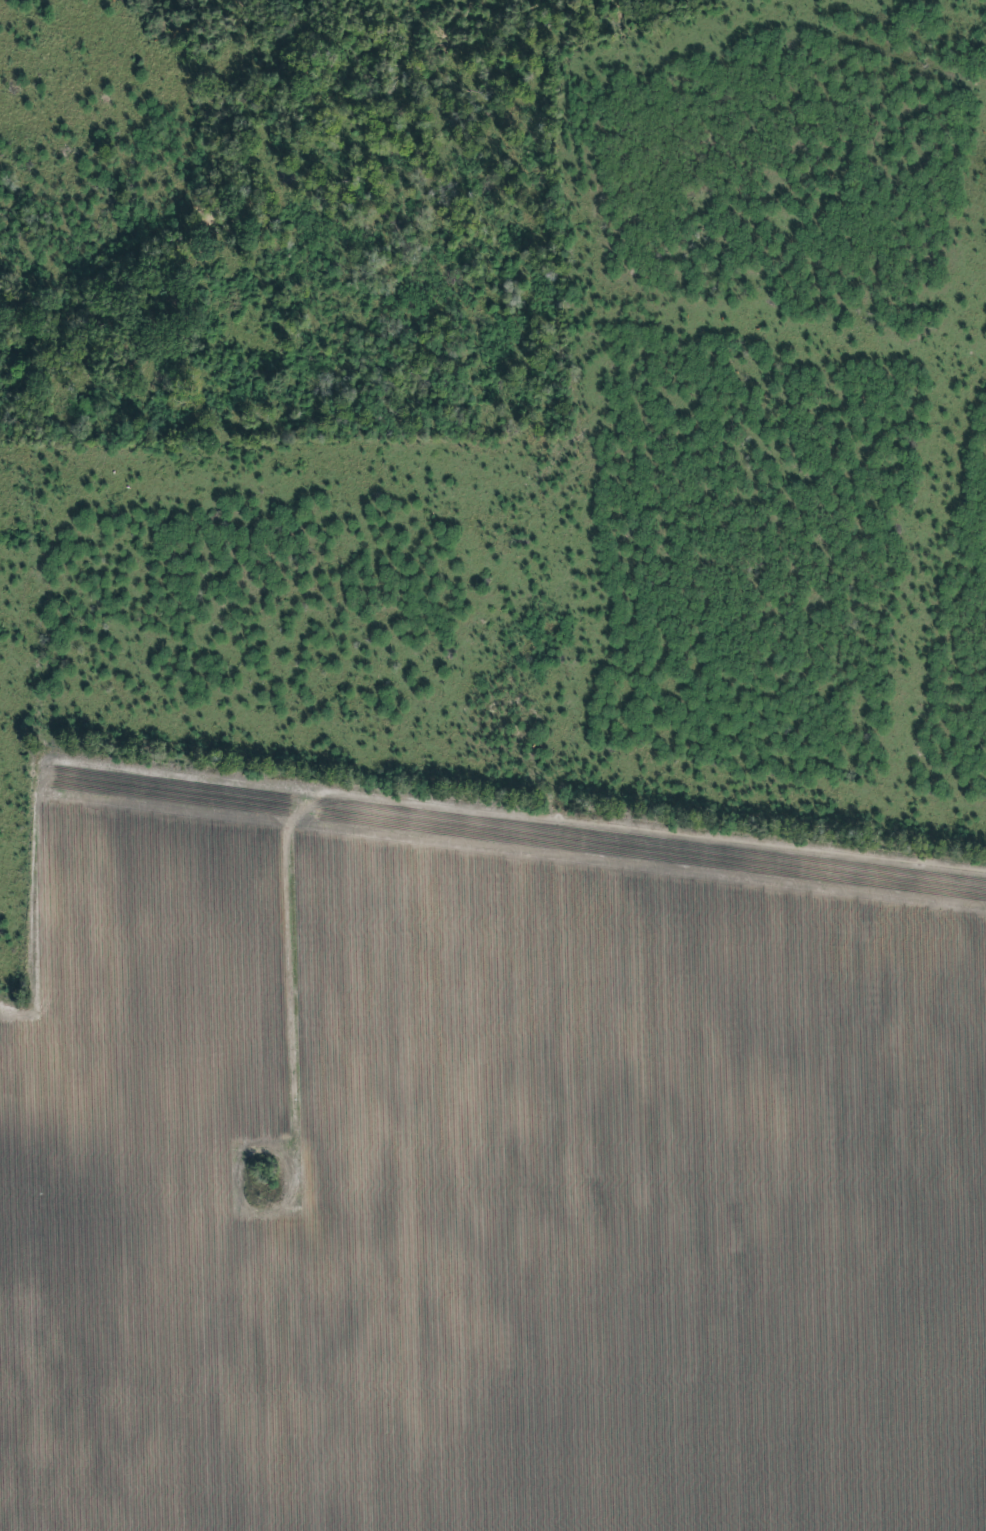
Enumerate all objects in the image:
road: (3, 281)
road: (30, 488)
road: (774, 844)

